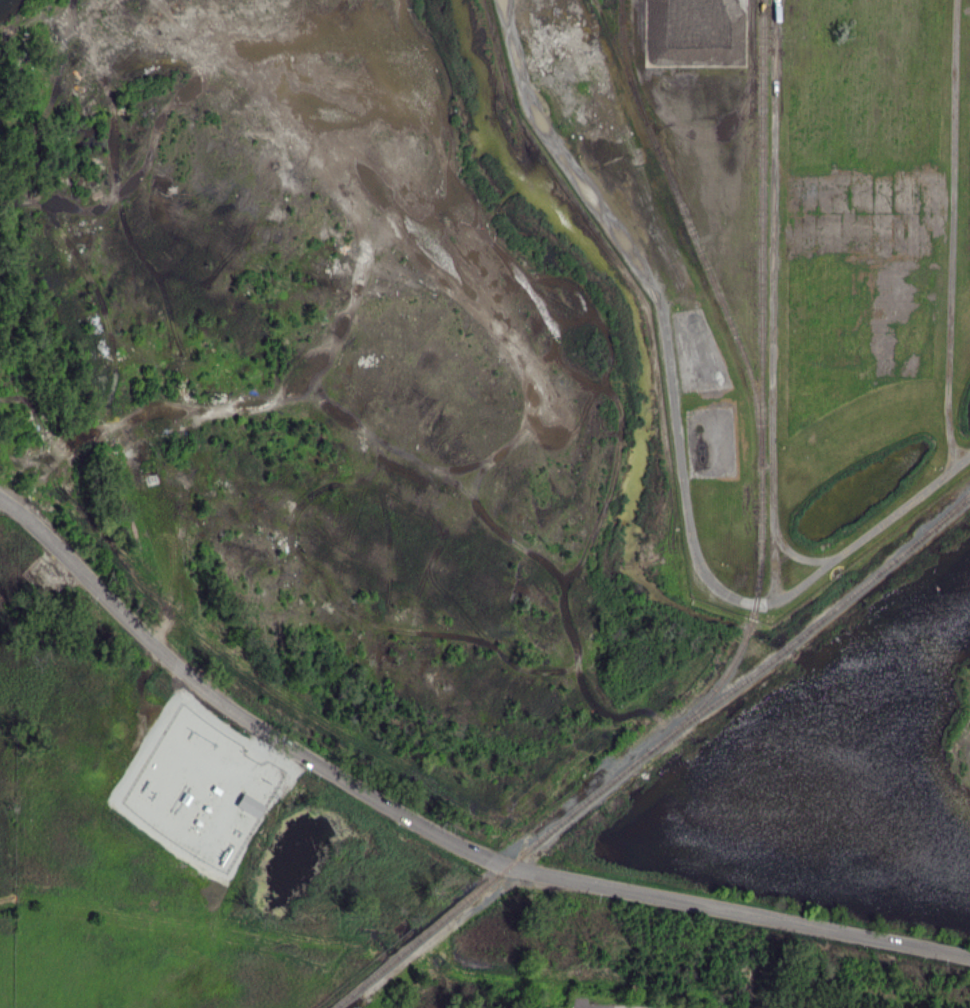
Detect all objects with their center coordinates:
railway: (628, 62)
railway: (692, 228)
park: (37, 254)
railway: (763, 396)
railway: (949, 516)
railway: (651, 750)
building: (249, 805)
road: (434, 833)
road: (585, 1006)
road: (595, 1006)

